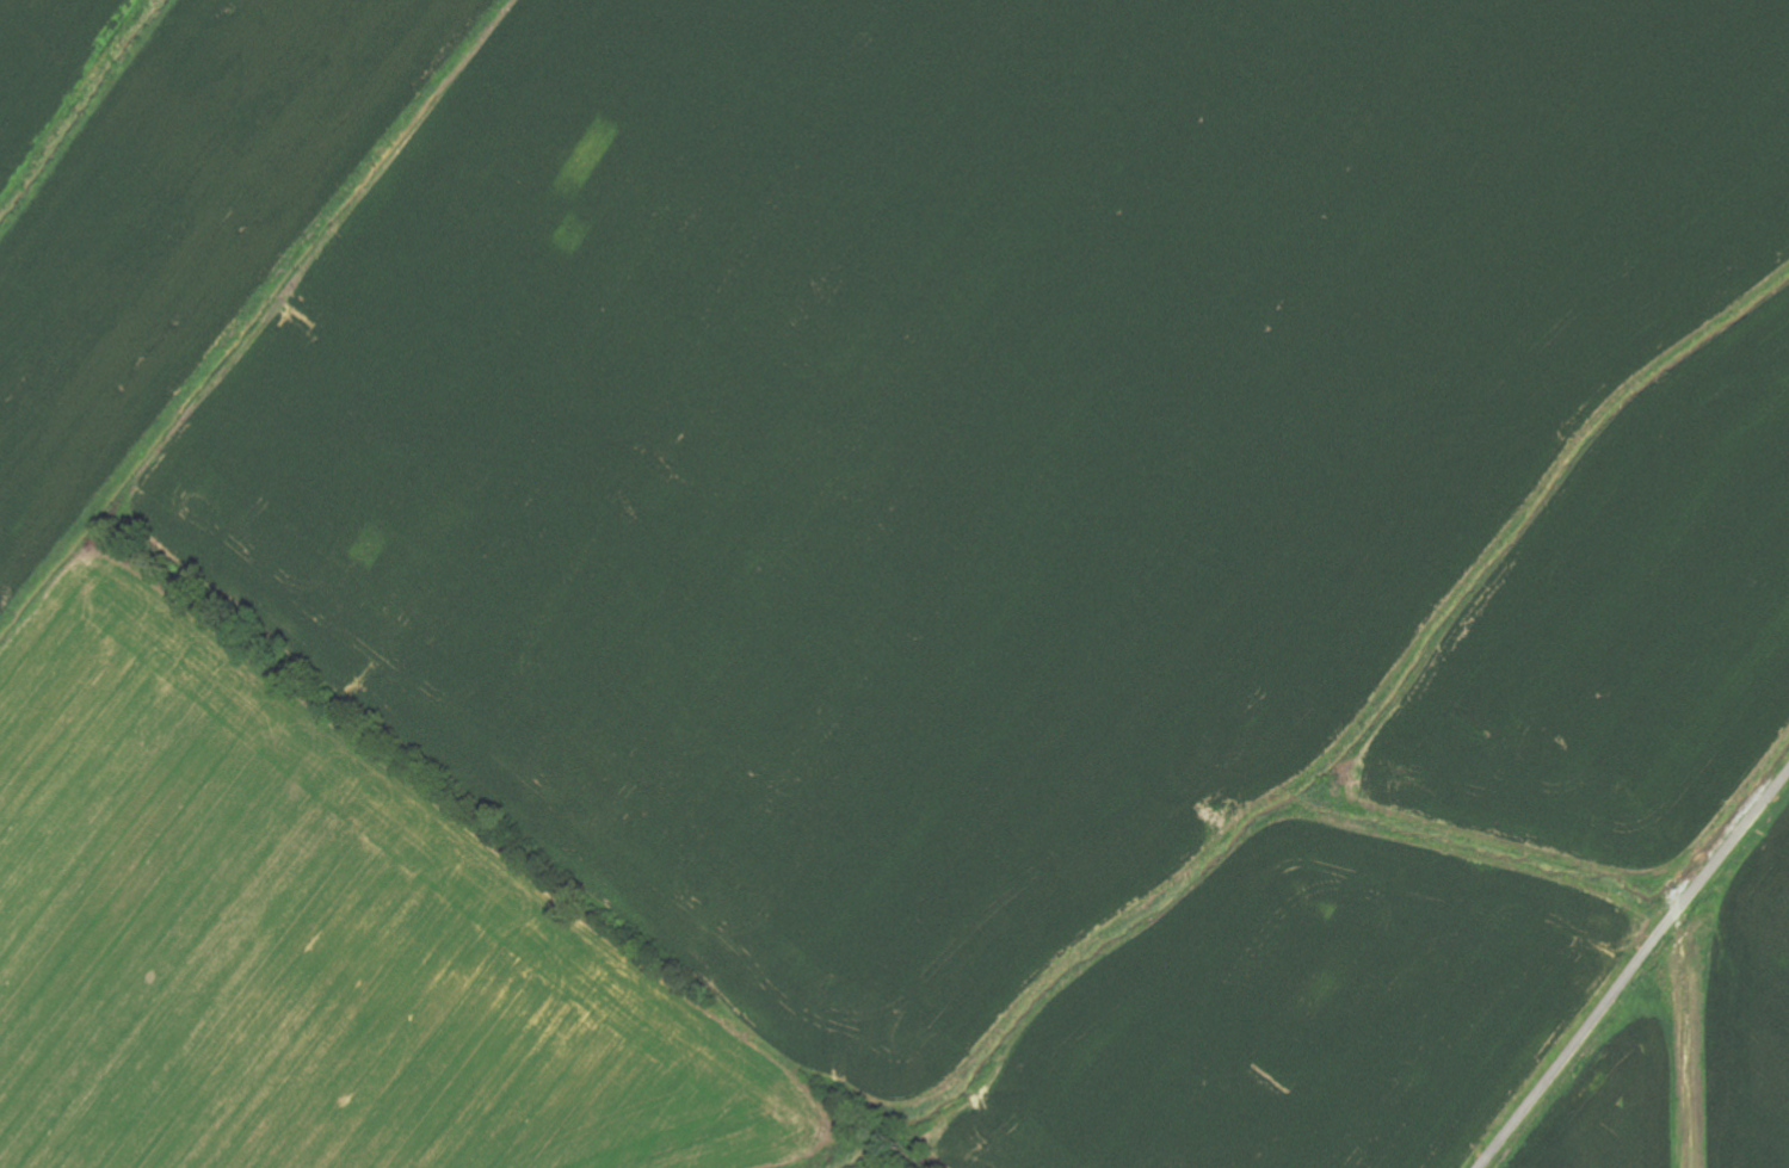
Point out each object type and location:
road: (1630, 966)

